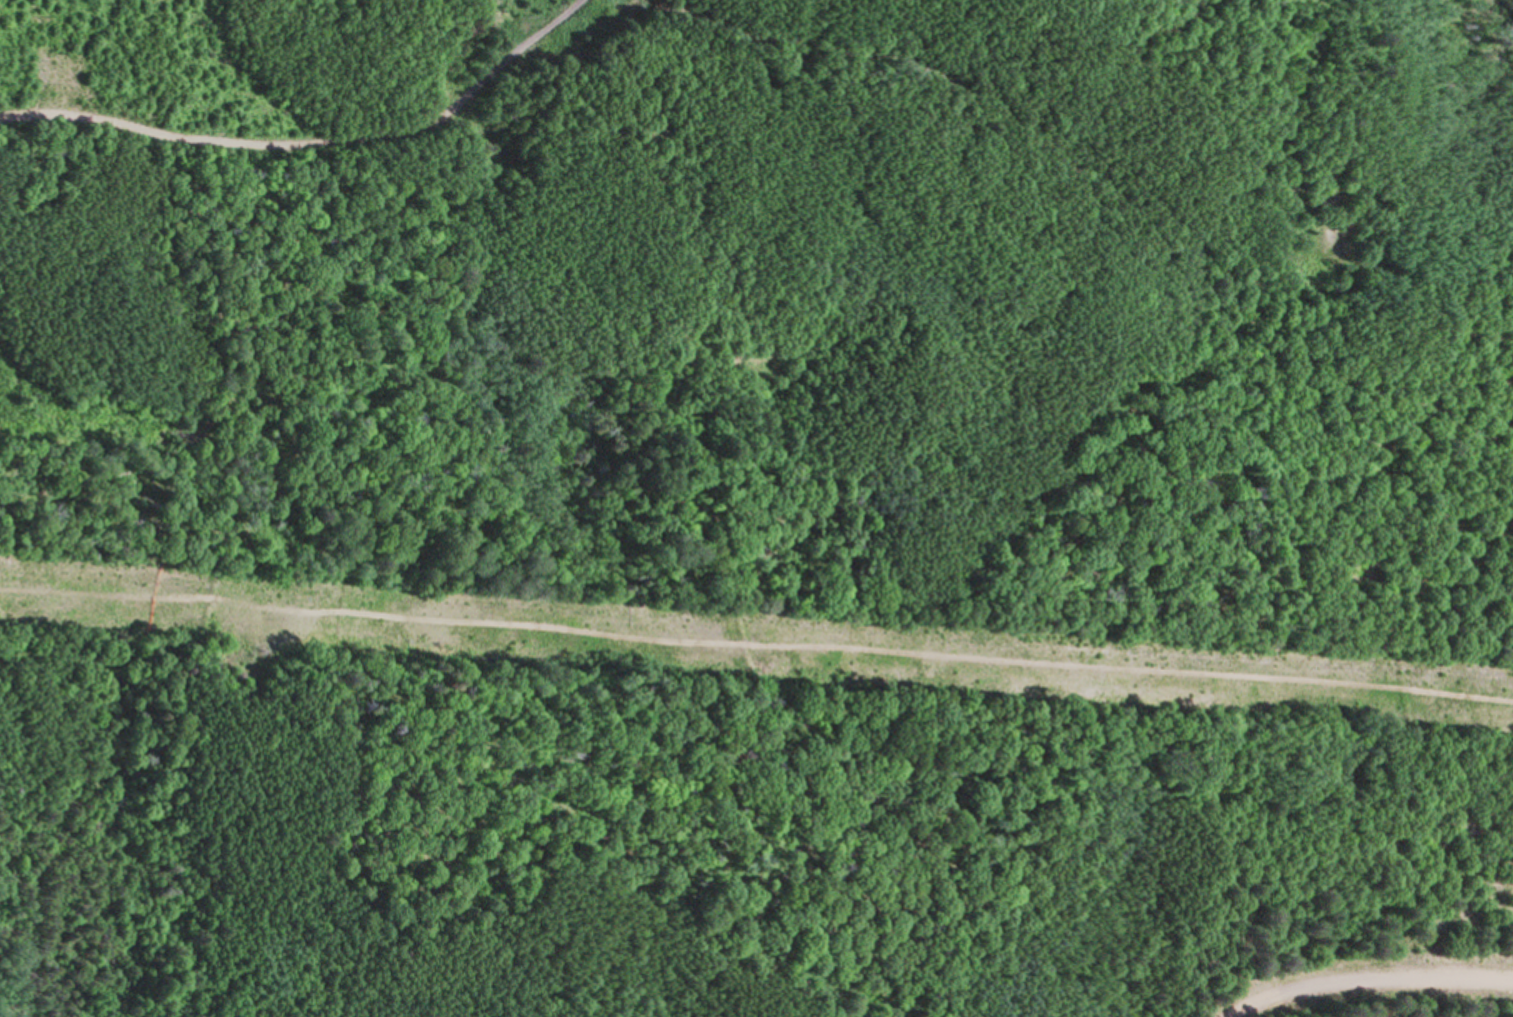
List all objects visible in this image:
road: (756, 643)
road: (1369, 980)

